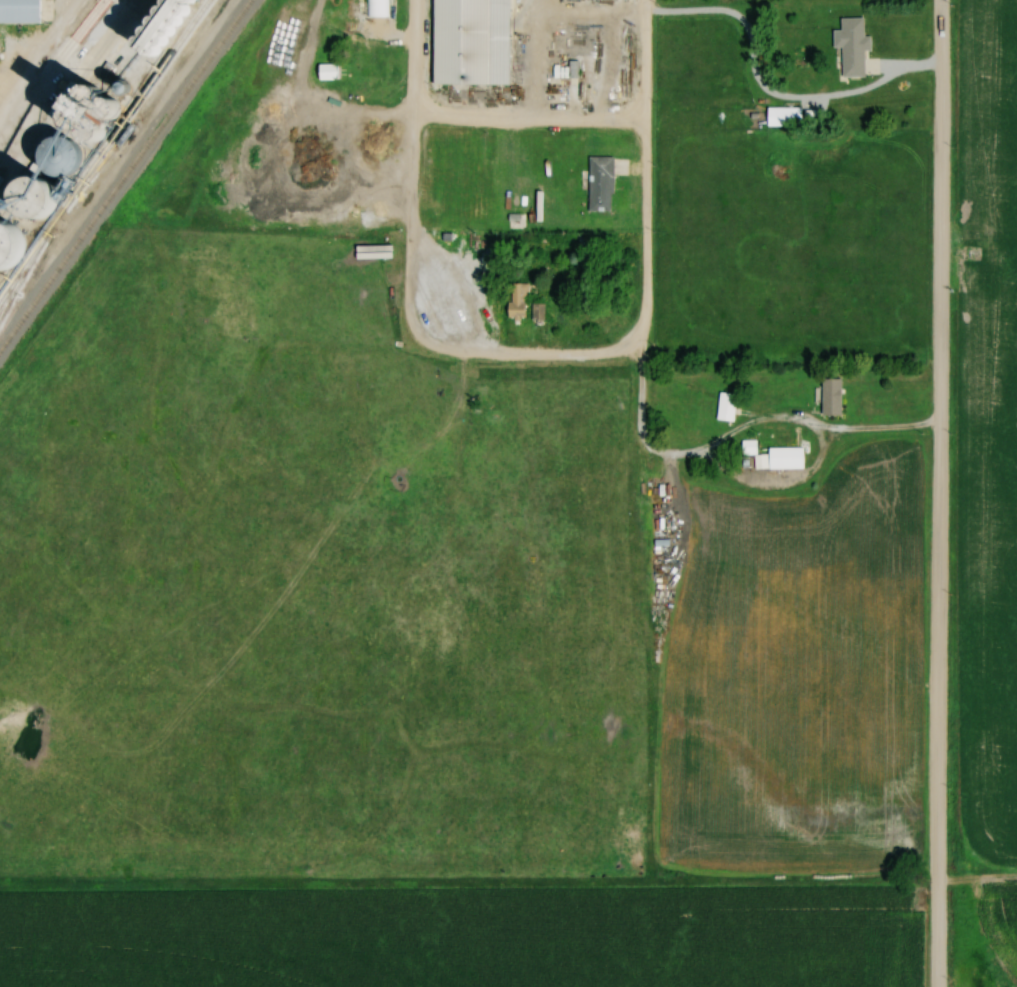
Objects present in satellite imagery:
building: (378, 8)
building: (21, 11)
building: (167, 25)
silo: (167, 25)
building: (474, 41)
building: (854, 44)
road: (39, 57)
building: (100, 109)
silo: (100, 109)
building: (785, 116)
road: (532, 117)
road: (328, 120)
building: (66, 155)
silo: (66, 155)
road: (415, 160)
building: (461, 166)
railway: (120, 168)
building: (602, 182)
road: (647, 184)
building: (41, 195)
silo: (41, 195)
building: (15, 241)
silo: (15, 241)
building: (0, 287)
silo: (0, 287)
building: (520, 299)
road: (510, 357)
building: (834, 395)
building: (728, 406)
road: (869, 430)
crop: (992, 438)
building: (751, 446)
building: (788, 457)
road: (944, 493)
crop: (456, 964)

